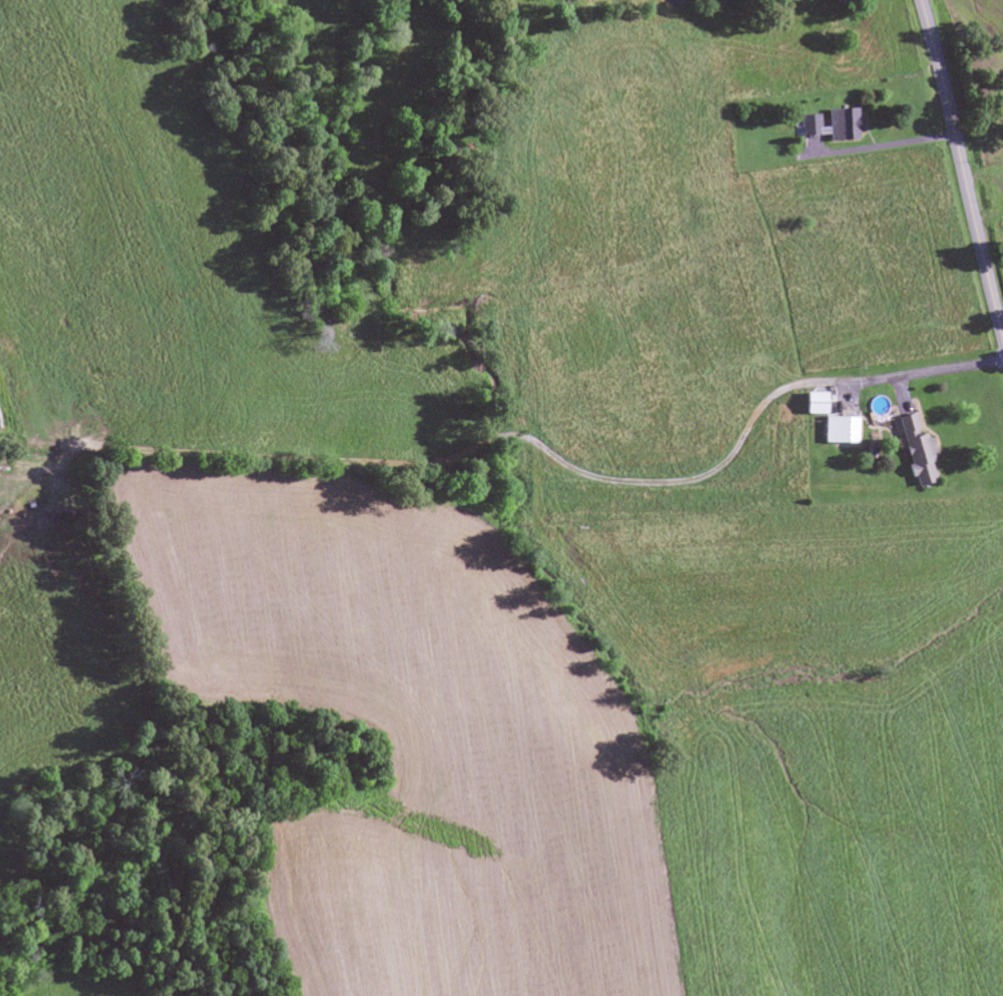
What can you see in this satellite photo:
building: (831, 126)
road: (961, 167)
building: (838, 431)
building: (915, 453)

